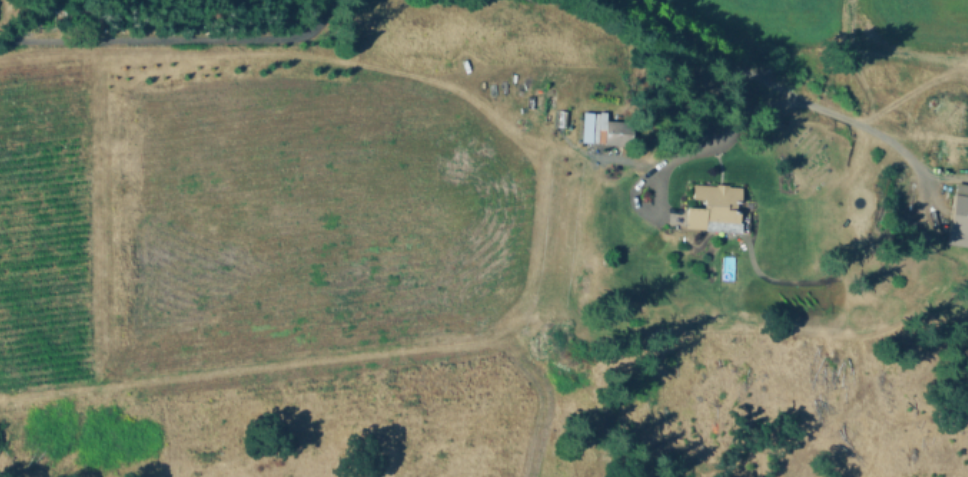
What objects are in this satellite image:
crop: (907, 27)
road: (173, 38)
road: (859, 64)
road: (777, 87)
building: (619, 132)
road: (717, 137)
road: (945, 175)
building: (713, 208)
building: (959, 218)

